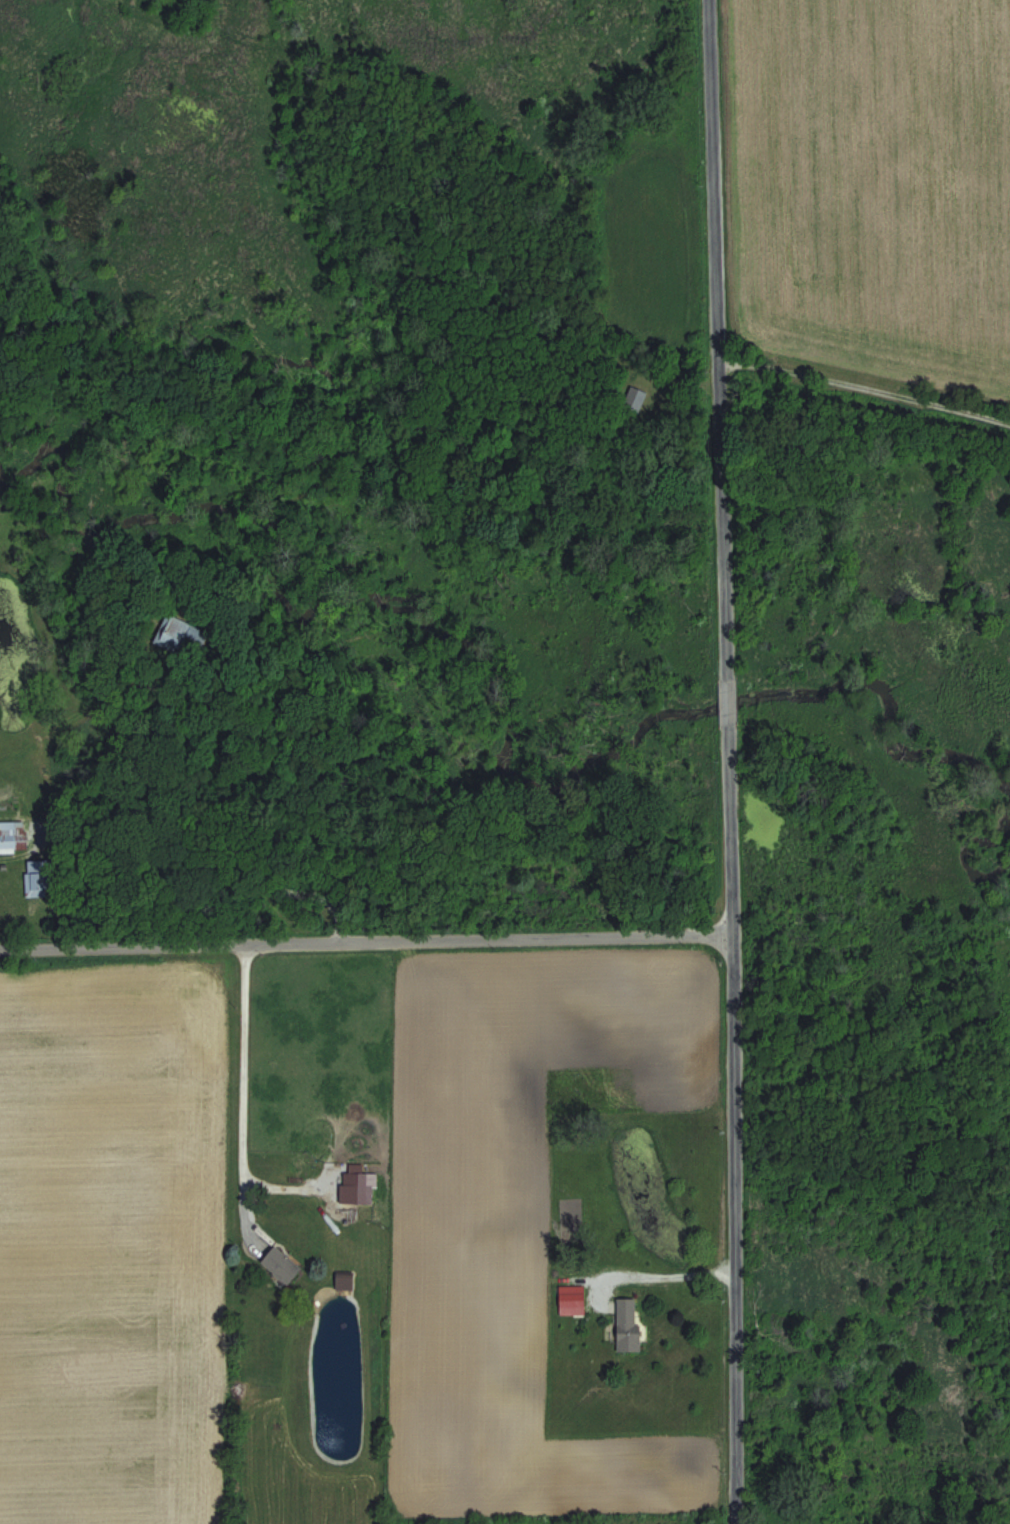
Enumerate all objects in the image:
road: (865, 388)
building: (635, 398)
building: (179, 633)
road: (728, 761)
road: (202, 827)
building: (13, 835)
building: (36, 879)
road: (281, 889)
road: (366, 944)
road: (245, 1064)
building: (358, 1186)
building: (281, 1265)
road: (665, 1275)
building: (345, 1280)
building: (572, 1299)
building: (628, 1324)

